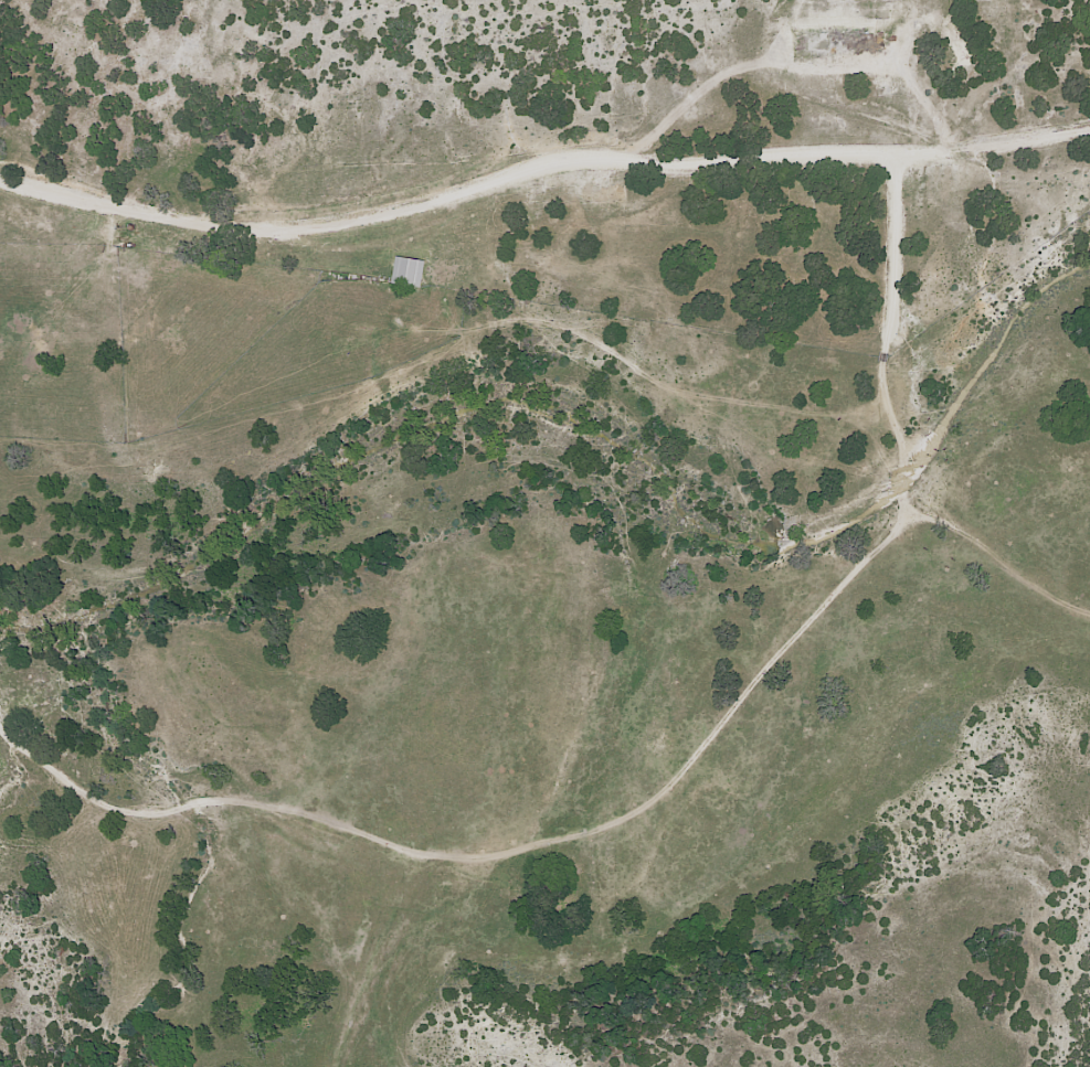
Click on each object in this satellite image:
road: (529, 158)
building: (408, 273)
road: (666, 822)
road: (375, 961)

